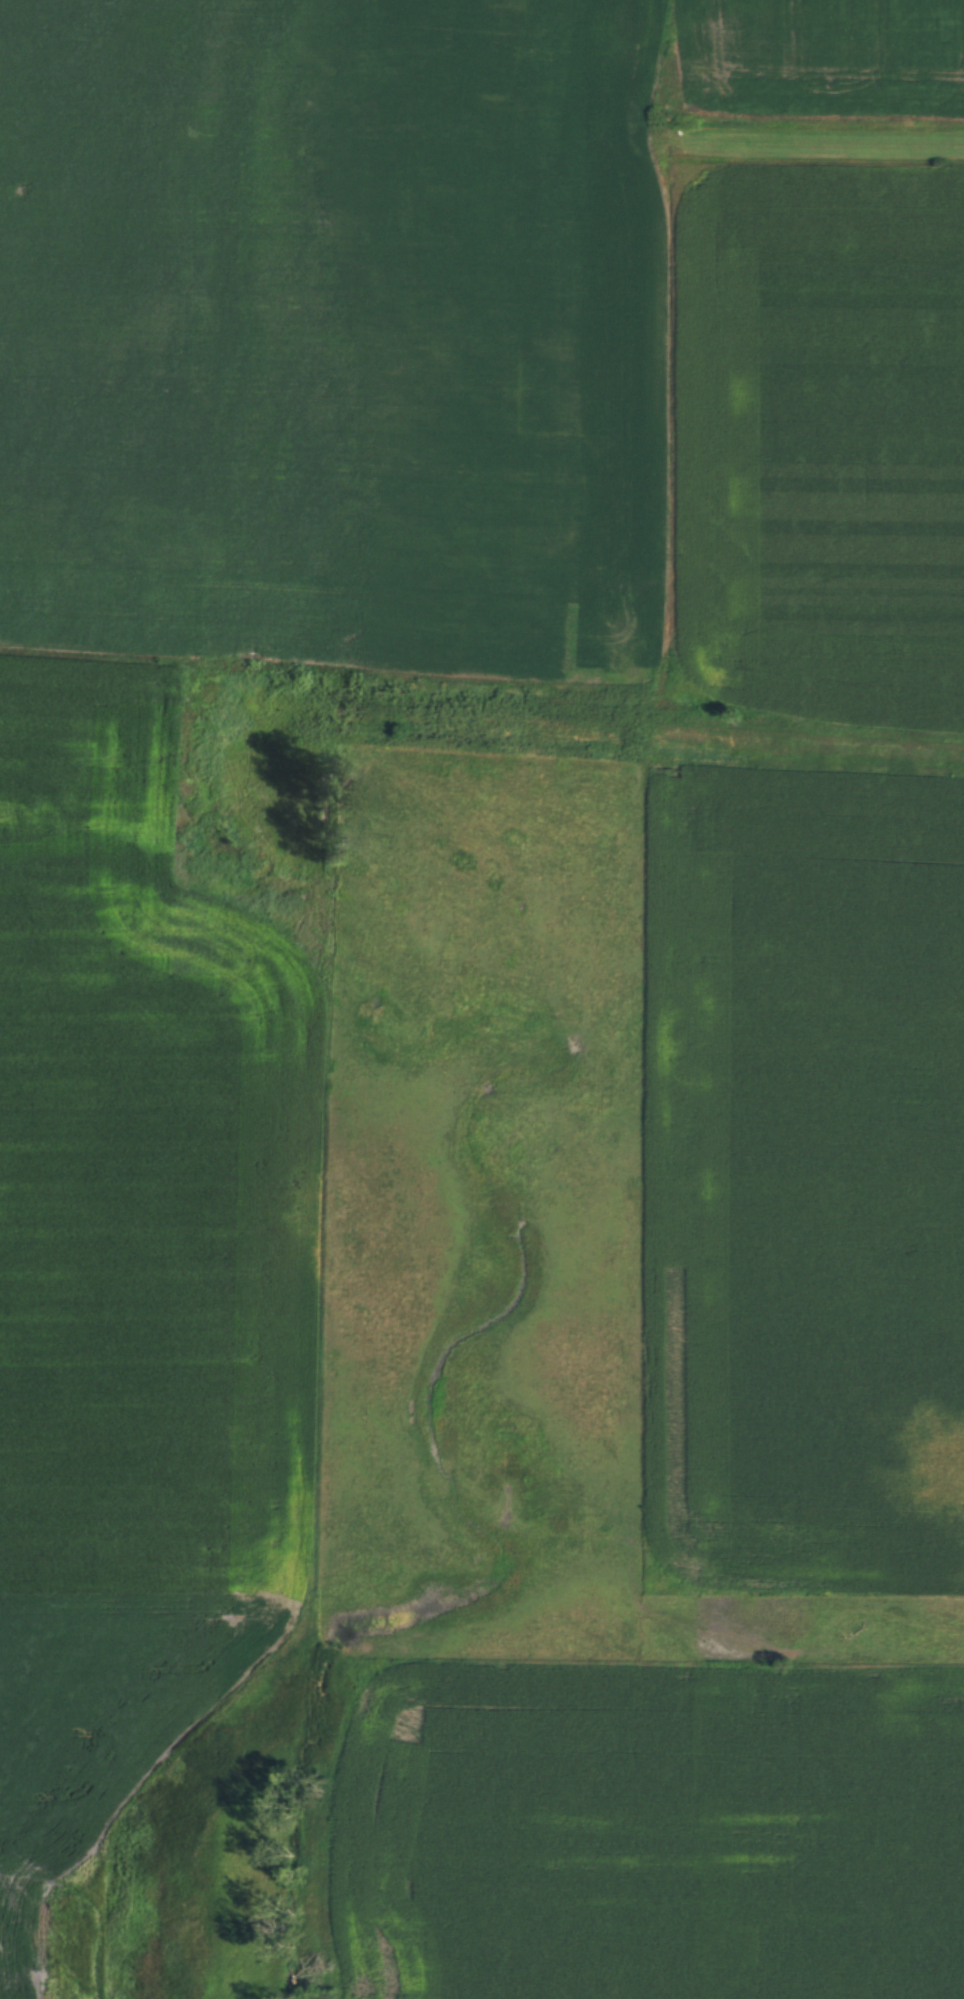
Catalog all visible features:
road: (663, 78)
road: (814, 155)

